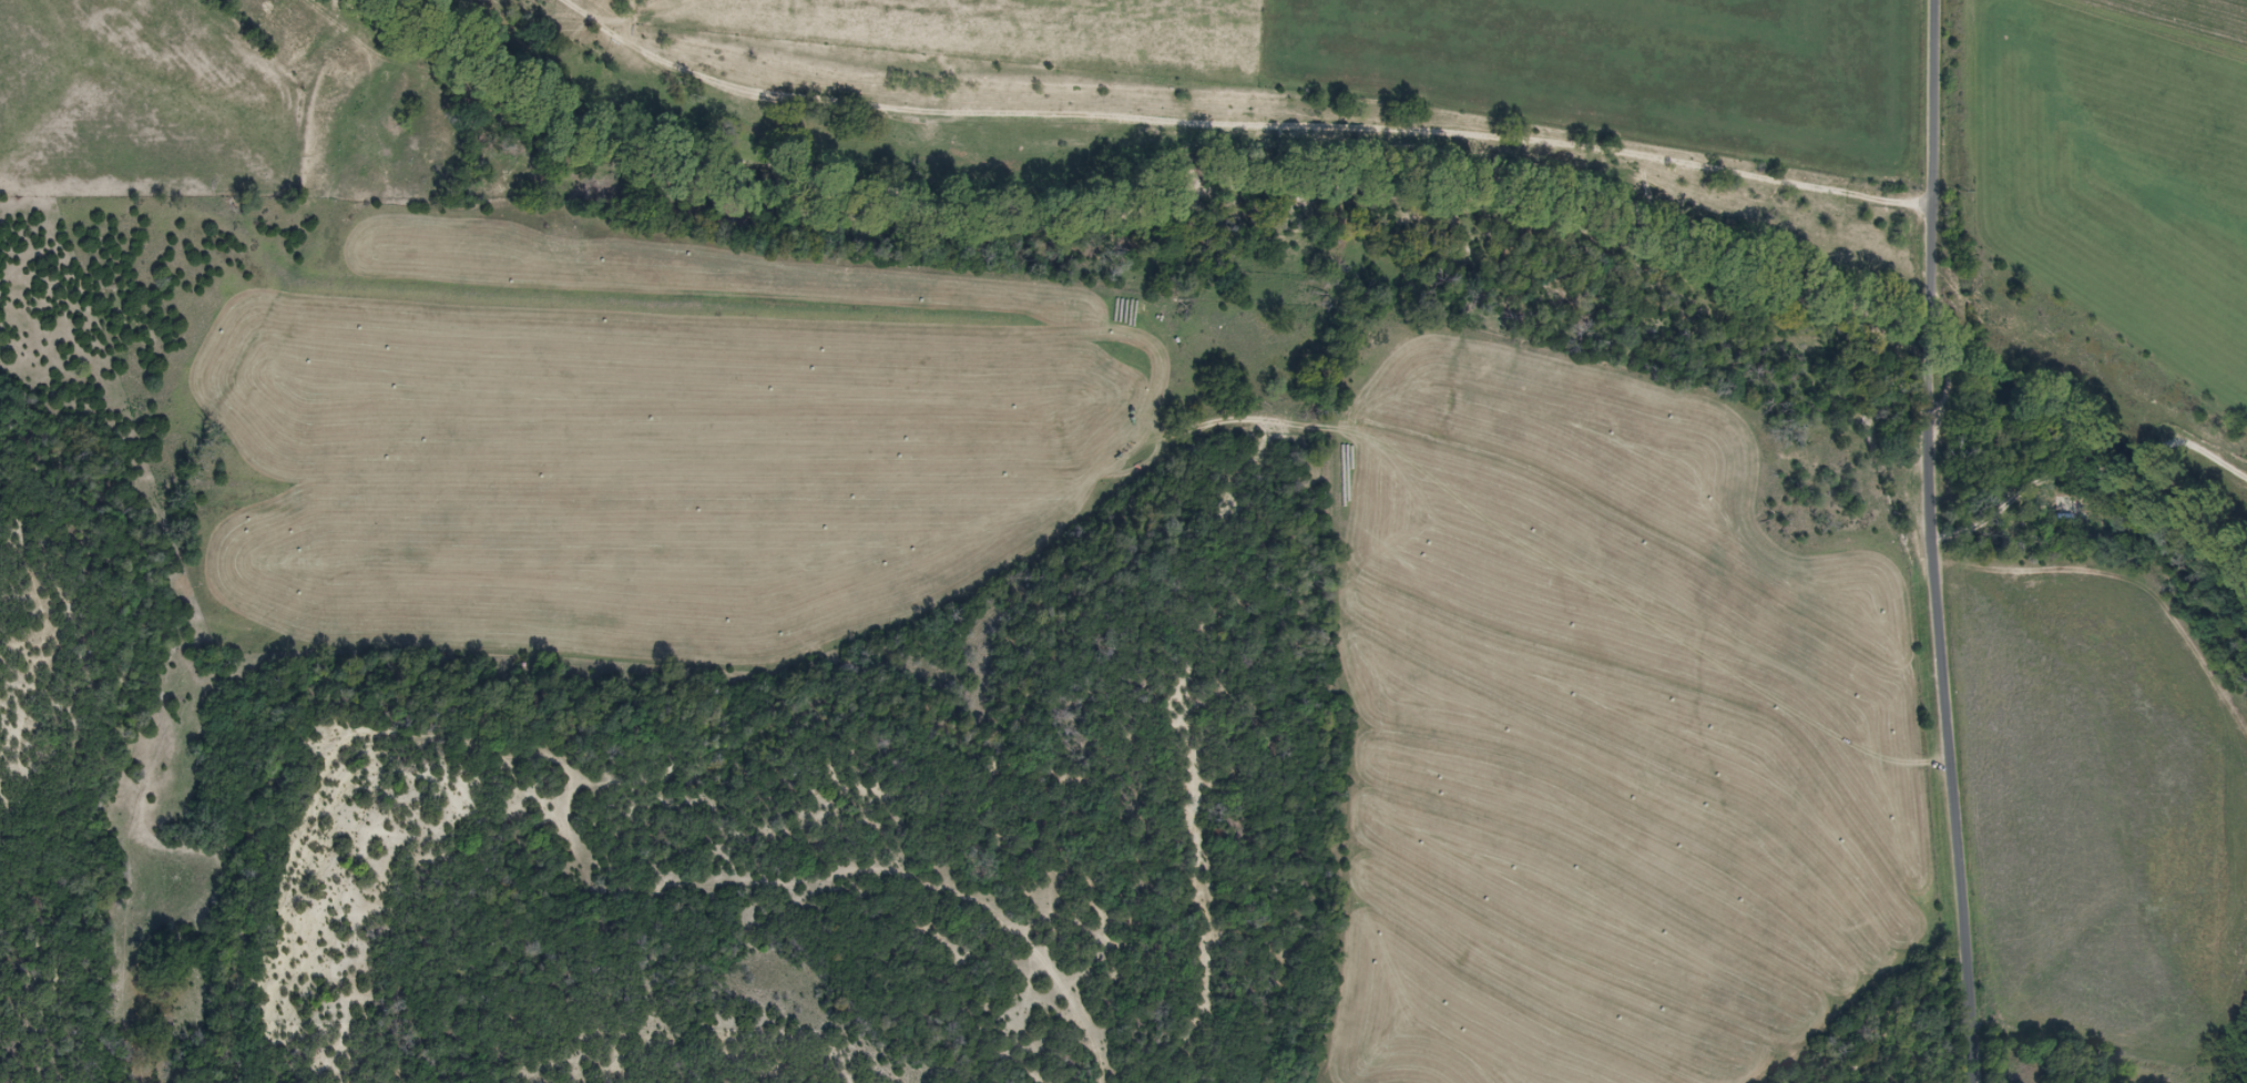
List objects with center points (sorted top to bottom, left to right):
road: (1242, 123)
road: (1932, 170)
road: (1929, 357)
road: (1947, 728)
road: (712, 858)

